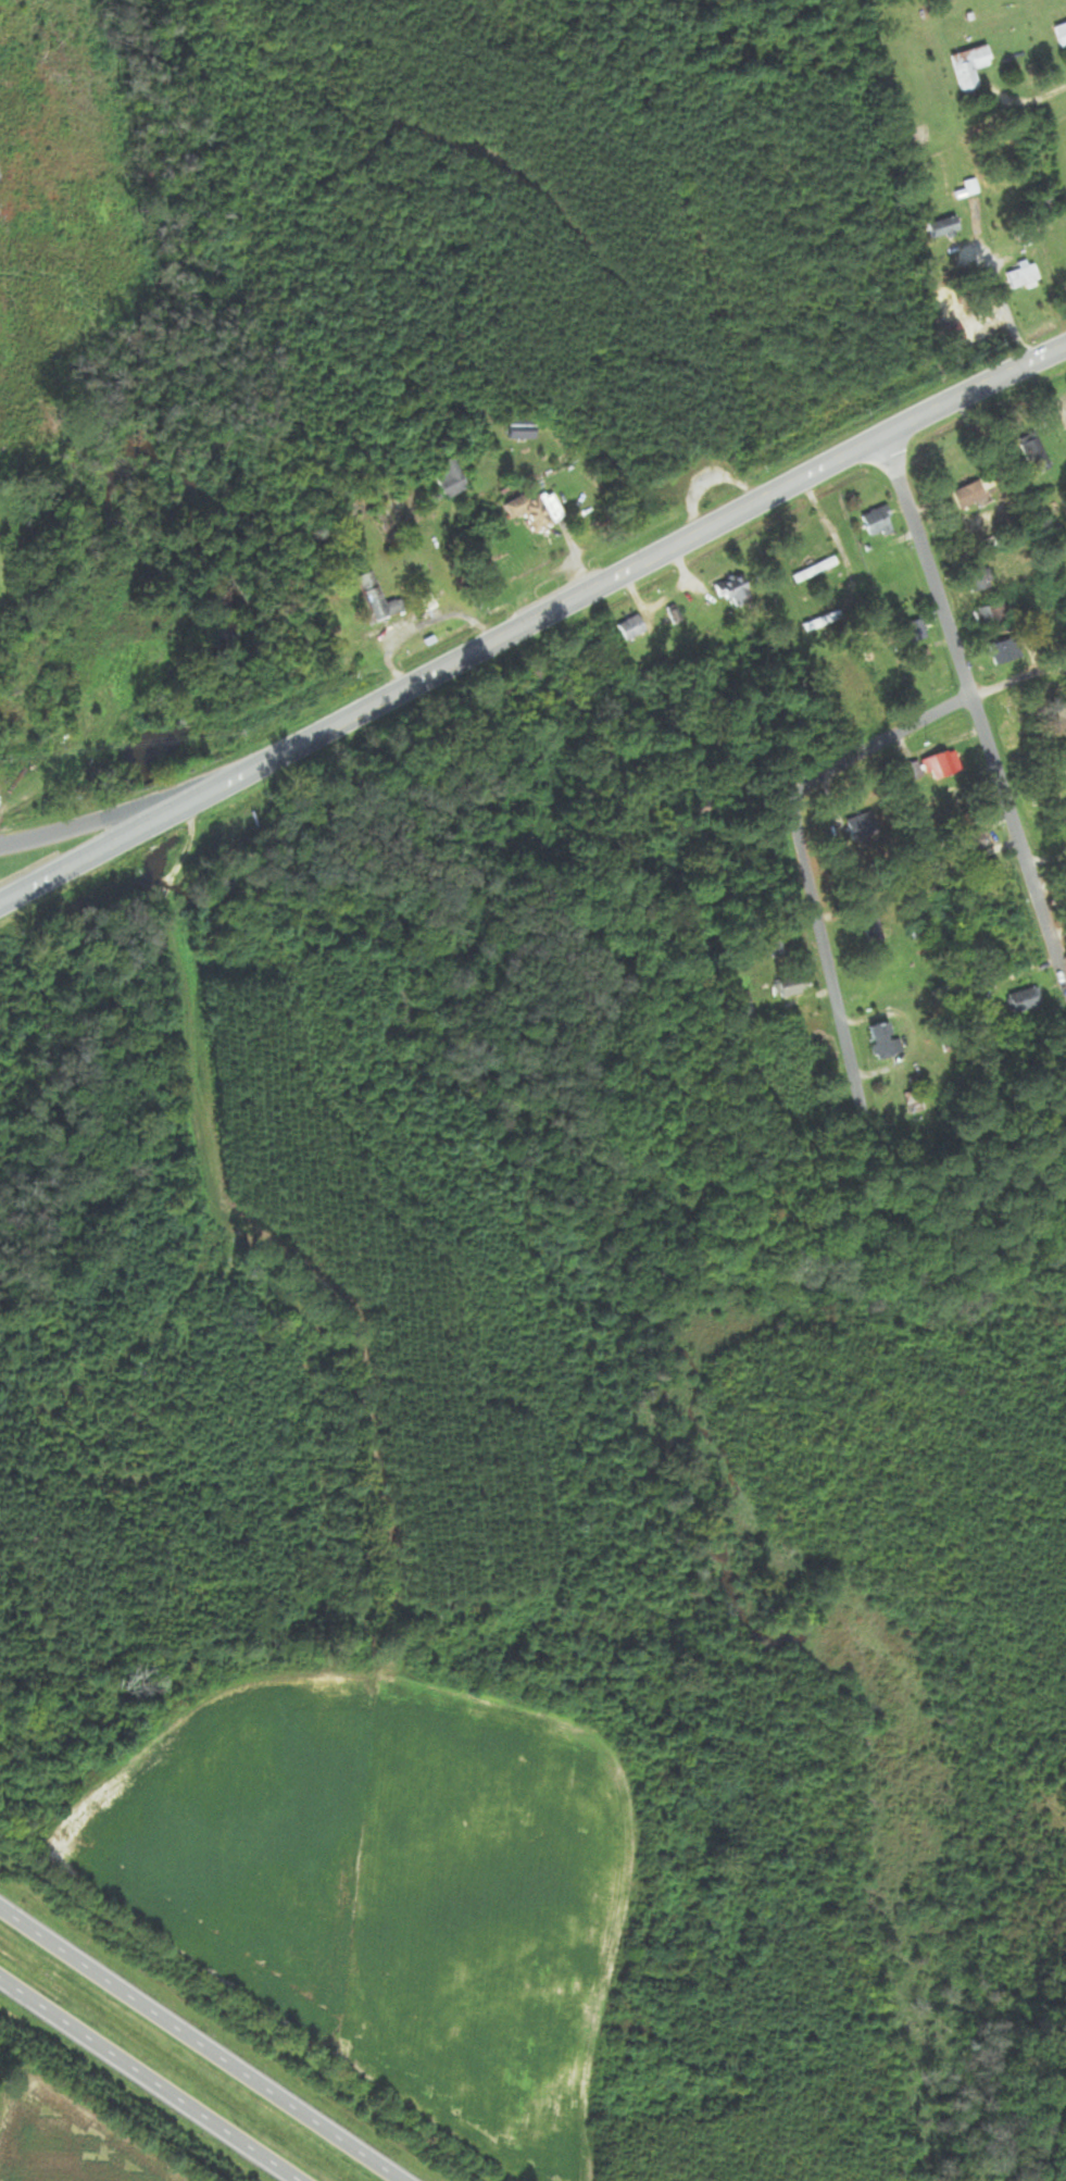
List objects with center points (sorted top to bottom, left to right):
building: (1062, 34)
building: (971, 67)
road: (1031, 98)
building: (1048, 203)
building: (945, 228)
building: (1025, 277)
road: (1003, 307)
building: (955, 335)
building: (524, 429)
building: (1037, 457)
building: (450, 474)
building: (971, 495)
building: (538, 511)
building: (878, 523)
road: (928, 568)
building: (816, 570)
road: (623, 574)
building: (980, 581)
building: (736, 591)
building: (379, 598)
building: (987, 618)
building: (632, 628)
building: (916, 632)
building: (1006, 652)
road: (1019, 680)
building: (941, 767)
building: (703, 822)
road: (91, 824)
road: (1019, 837)
building: (977, 843)
road: (92, 856)
road: (801, 869)
building: (875, 932)
building: (792, 987)
building: (1025, 1001)
building: (885, 1040)
building: (916, 1101)
building: (146, 1375)
road: (199, 2046)
road: (148, 2079)

